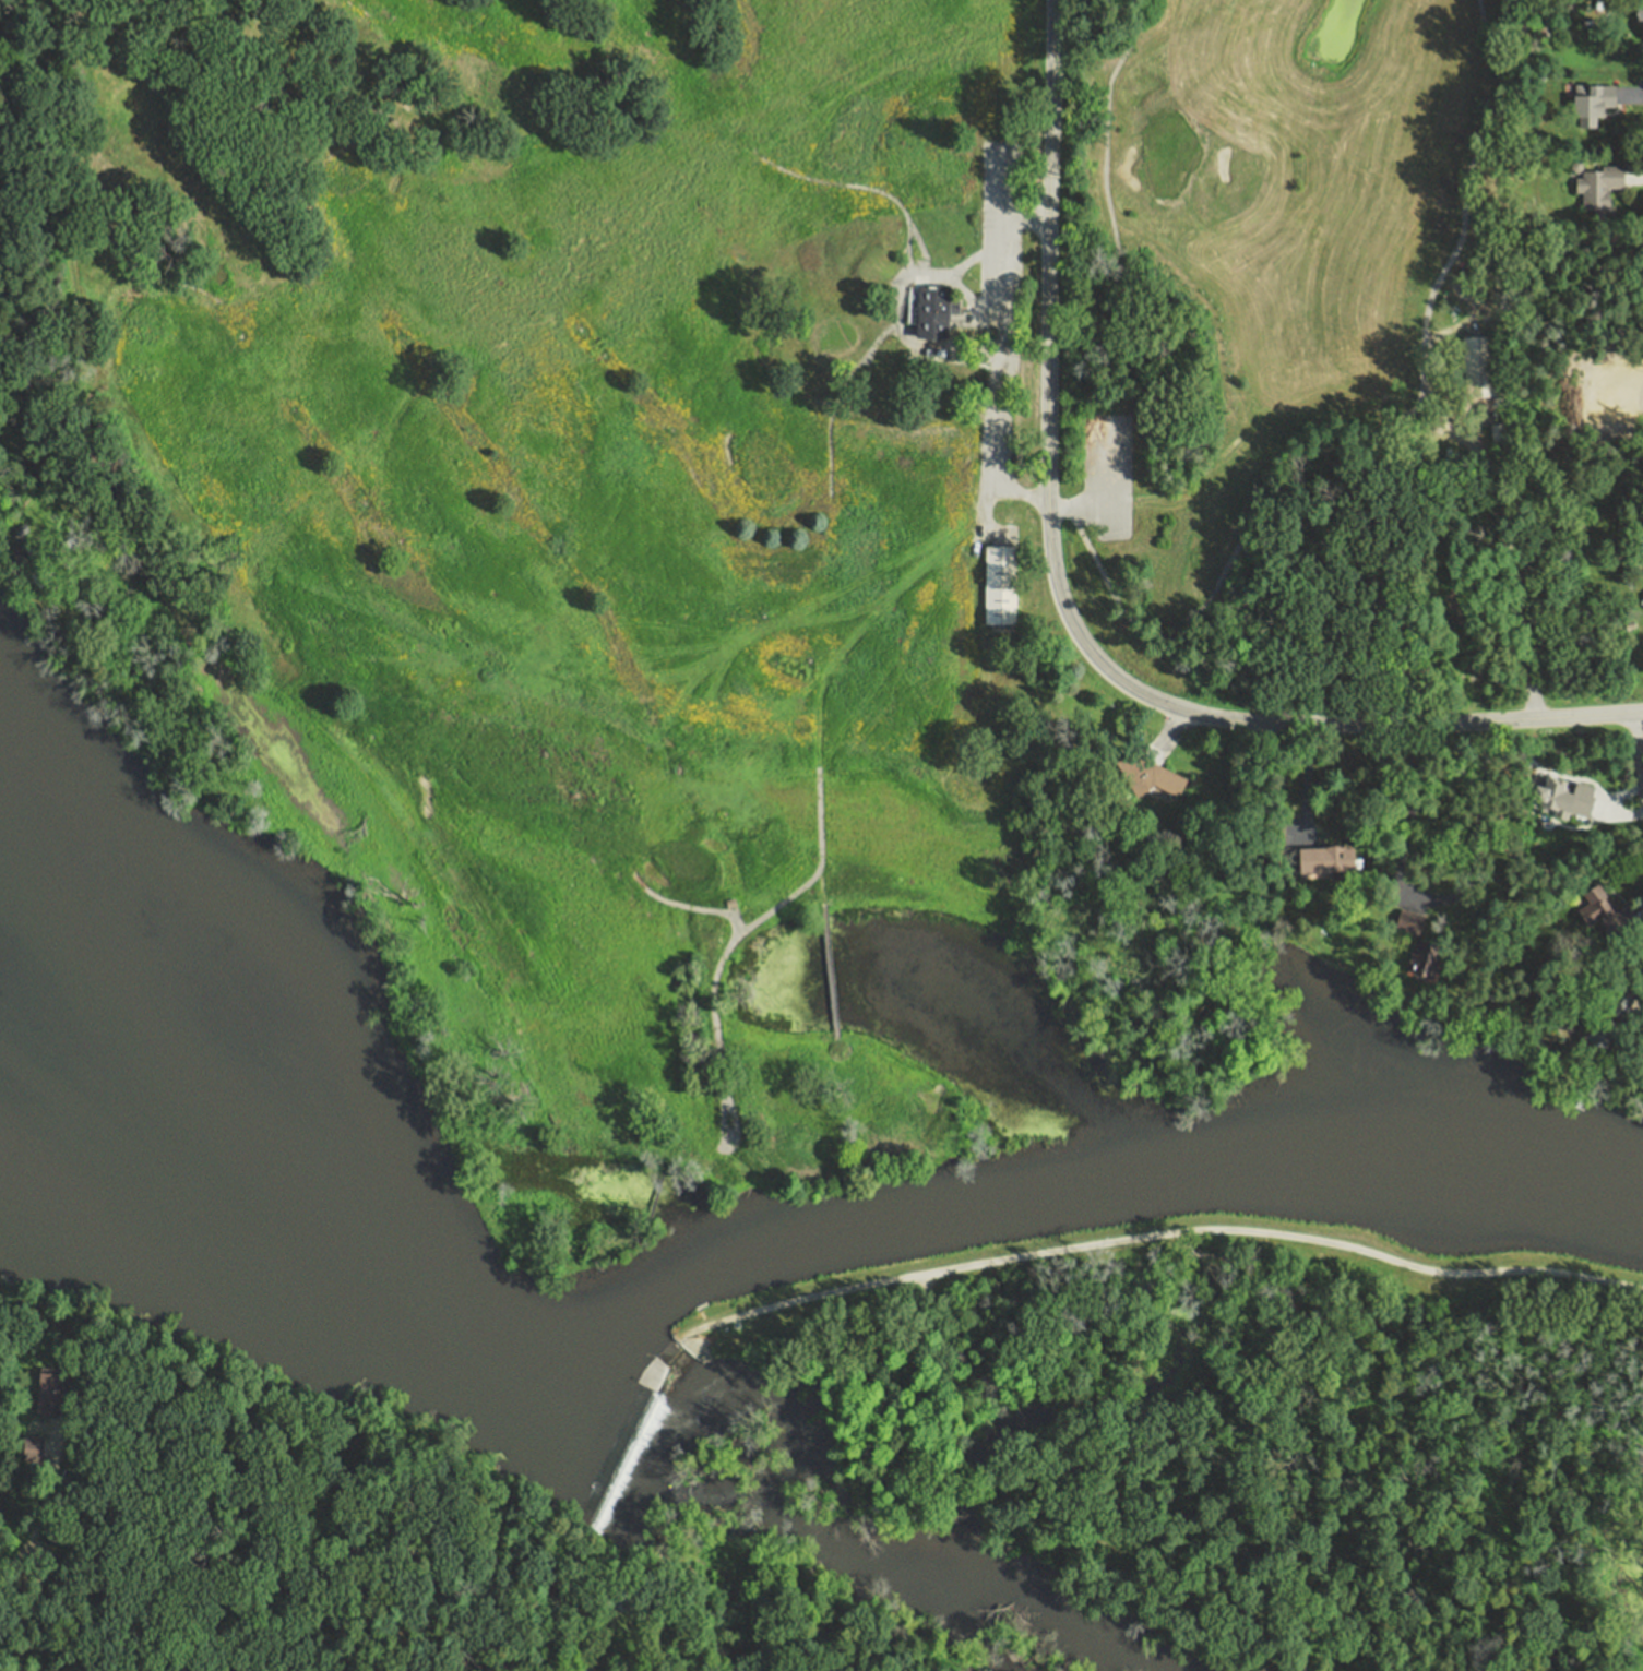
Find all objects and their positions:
building: (1638, 12)
building: (1642, 33)
road: (1631, 97)
building: (1588, 102)
road: (1633, 176)
building: (1595, 184)
road: (1023, 220)
parking lot: (985, 305)
parking lot: (997, 311)
building: (929, 313)
road: (998, 345)
building: (1476, 366)
parking lot: (1106, 475)
road: (1104, 493)
road: (1511, 566)
building: (997, 585)
building: (1642, 608)
road: (1068, 614)
road: (1166, 735)
road: (1636, 749)
building: (1145, 776)
road: (1305, 783)
road: (818, 827)
building: (1325, 860)
road: (1433, 897)
building: (1592, 905)
road: (1638, 914)
building: (1407, 921)
building: (1614, 924)
building: (1422, 956)
road: (829, 972)
road: (1640, 1015)
building: (1595, 1038)
river: (295, 1224)
road: (1167, 1232)
building: (46, 1392)
dam: (630, 1431)
building: (28, 1449)
park: (652, 1500)
road: (31, 1545)
river: (857, 1561)
road: (550, 1594)

